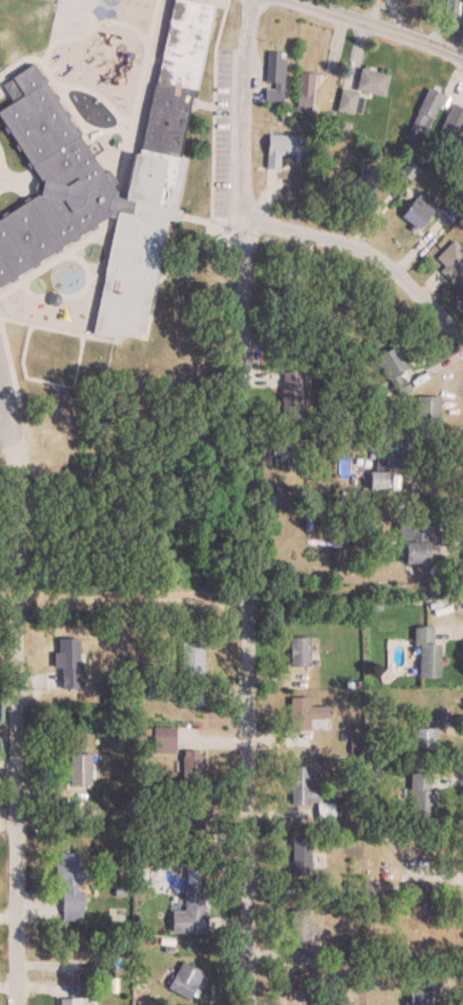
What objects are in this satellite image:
building: (450, 14)
road: (381, 26)
building: (274, 76)
building: (304, 89)
building: (361, 91)
road: (244, 107)
building: (427, 109)
building: (453, 121)
building: (282, 148)
building: (104, 179)
building: (414, 214)
road: (366, 251)
building: (451, 261)
building: (184, 275)
road: (243, 294)
building: (169, 320)
building: (187, 352)
building: (97, 356)
building: (146, 365)
building: (393, 370)
building: (289, 395)
building: (426, 411)
road: (3, 425)
building: (387, 455)
building: (376, 481)
road: (13, 499)
building: (417, 540)
road: (124, 598)
building: (298, 651)
building: (425, 651)
building: (190, 659)
building: (191, 695)
building: (305, 714)
building: (424, 738)
building: (162, 740)
building: (191, 768)
building: (78, 770)
building: (301, 787)
building: (419, 796)
road: (15, 801)
road: (248, 802)
building: (191, 827)
building: (299, 855)
building: (70, 885)
building: (415, 896)
building: (189, 910)
building: (300, 935)
building: (71, 953)
building: (184, 980)
building: (418, 989)
building: (68, 1002)

